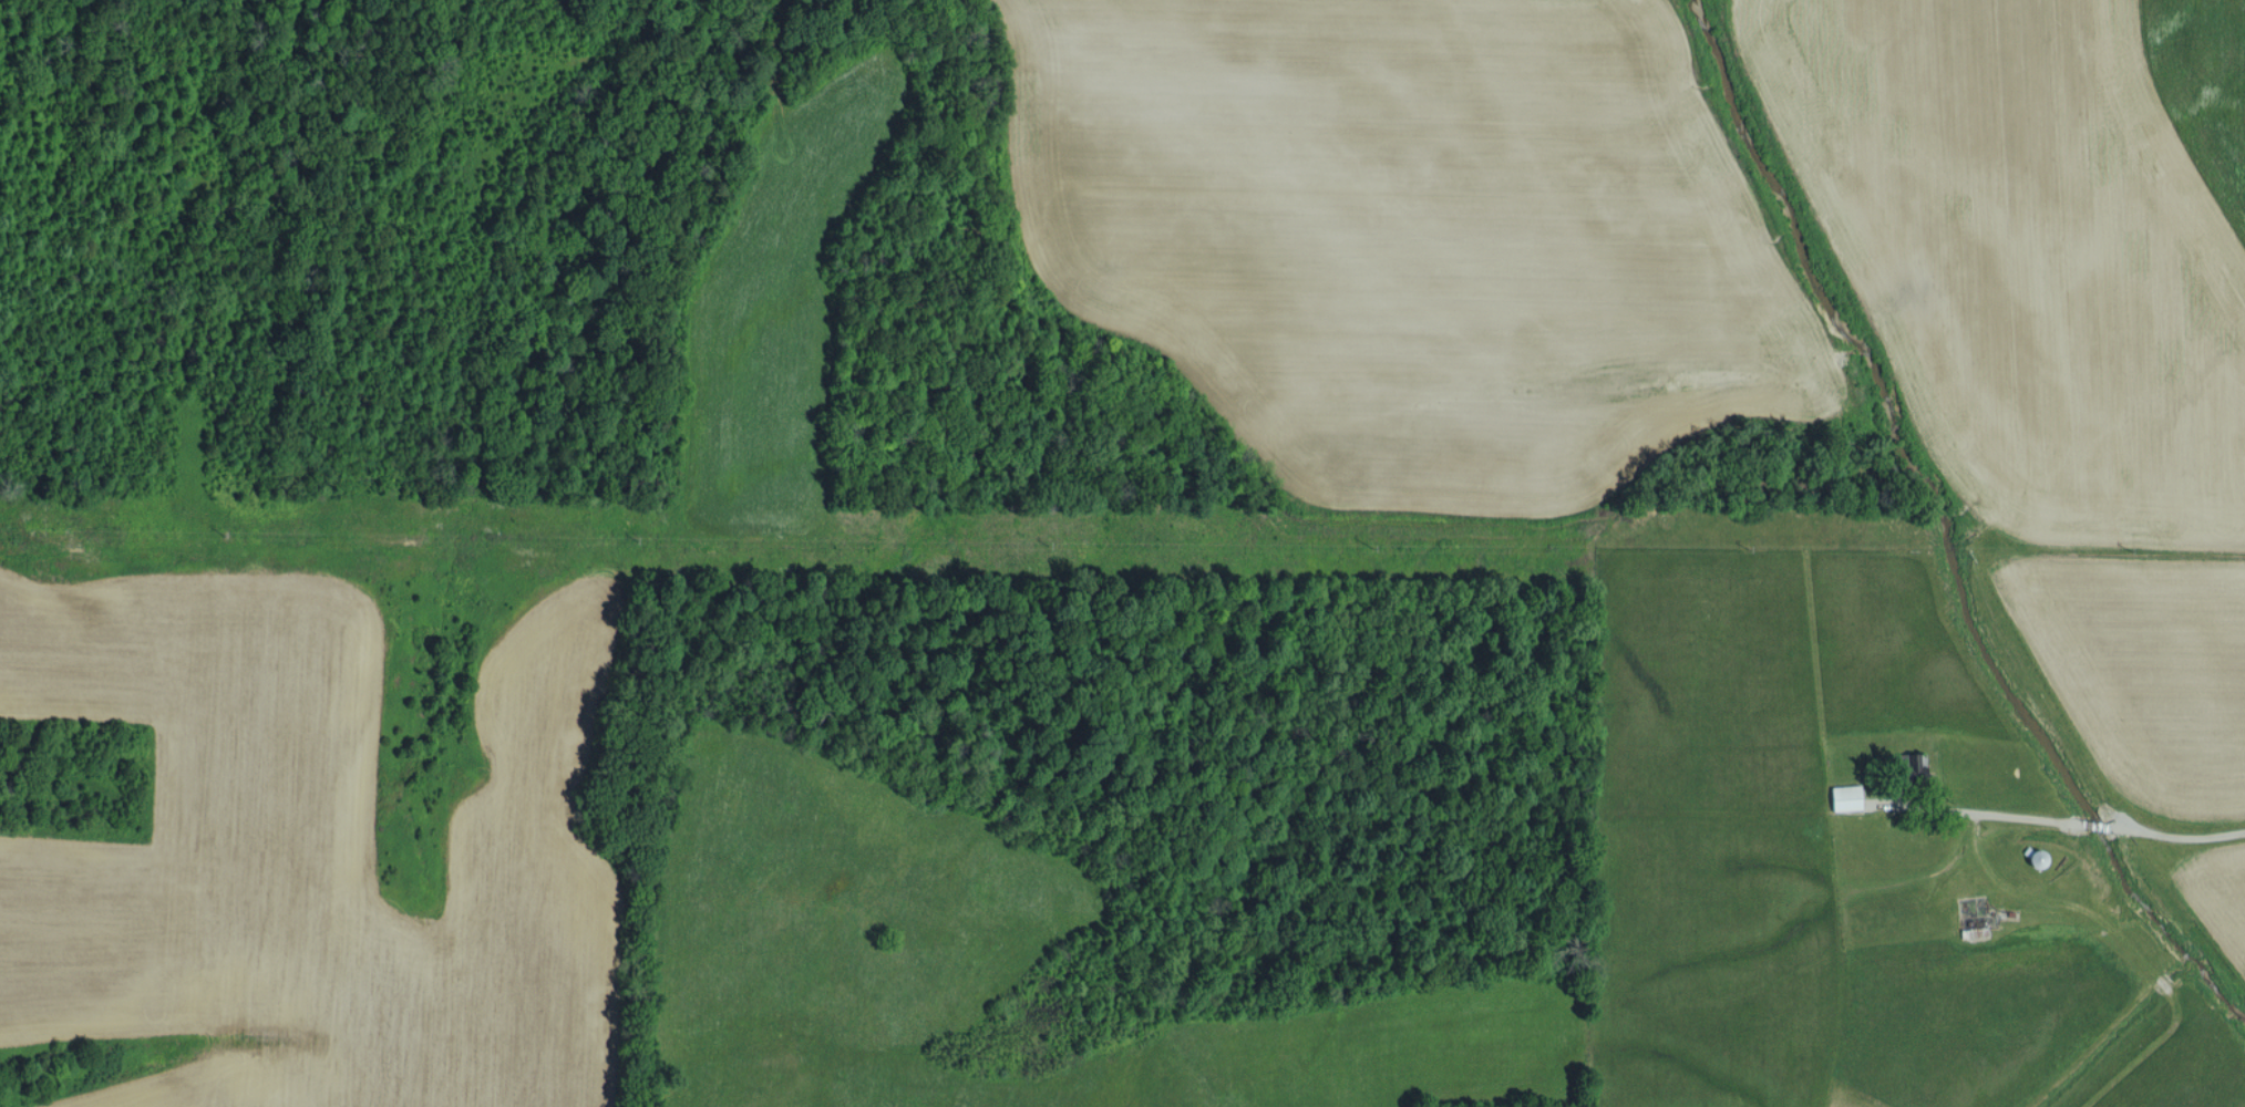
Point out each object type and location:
building: (1909, 763)

